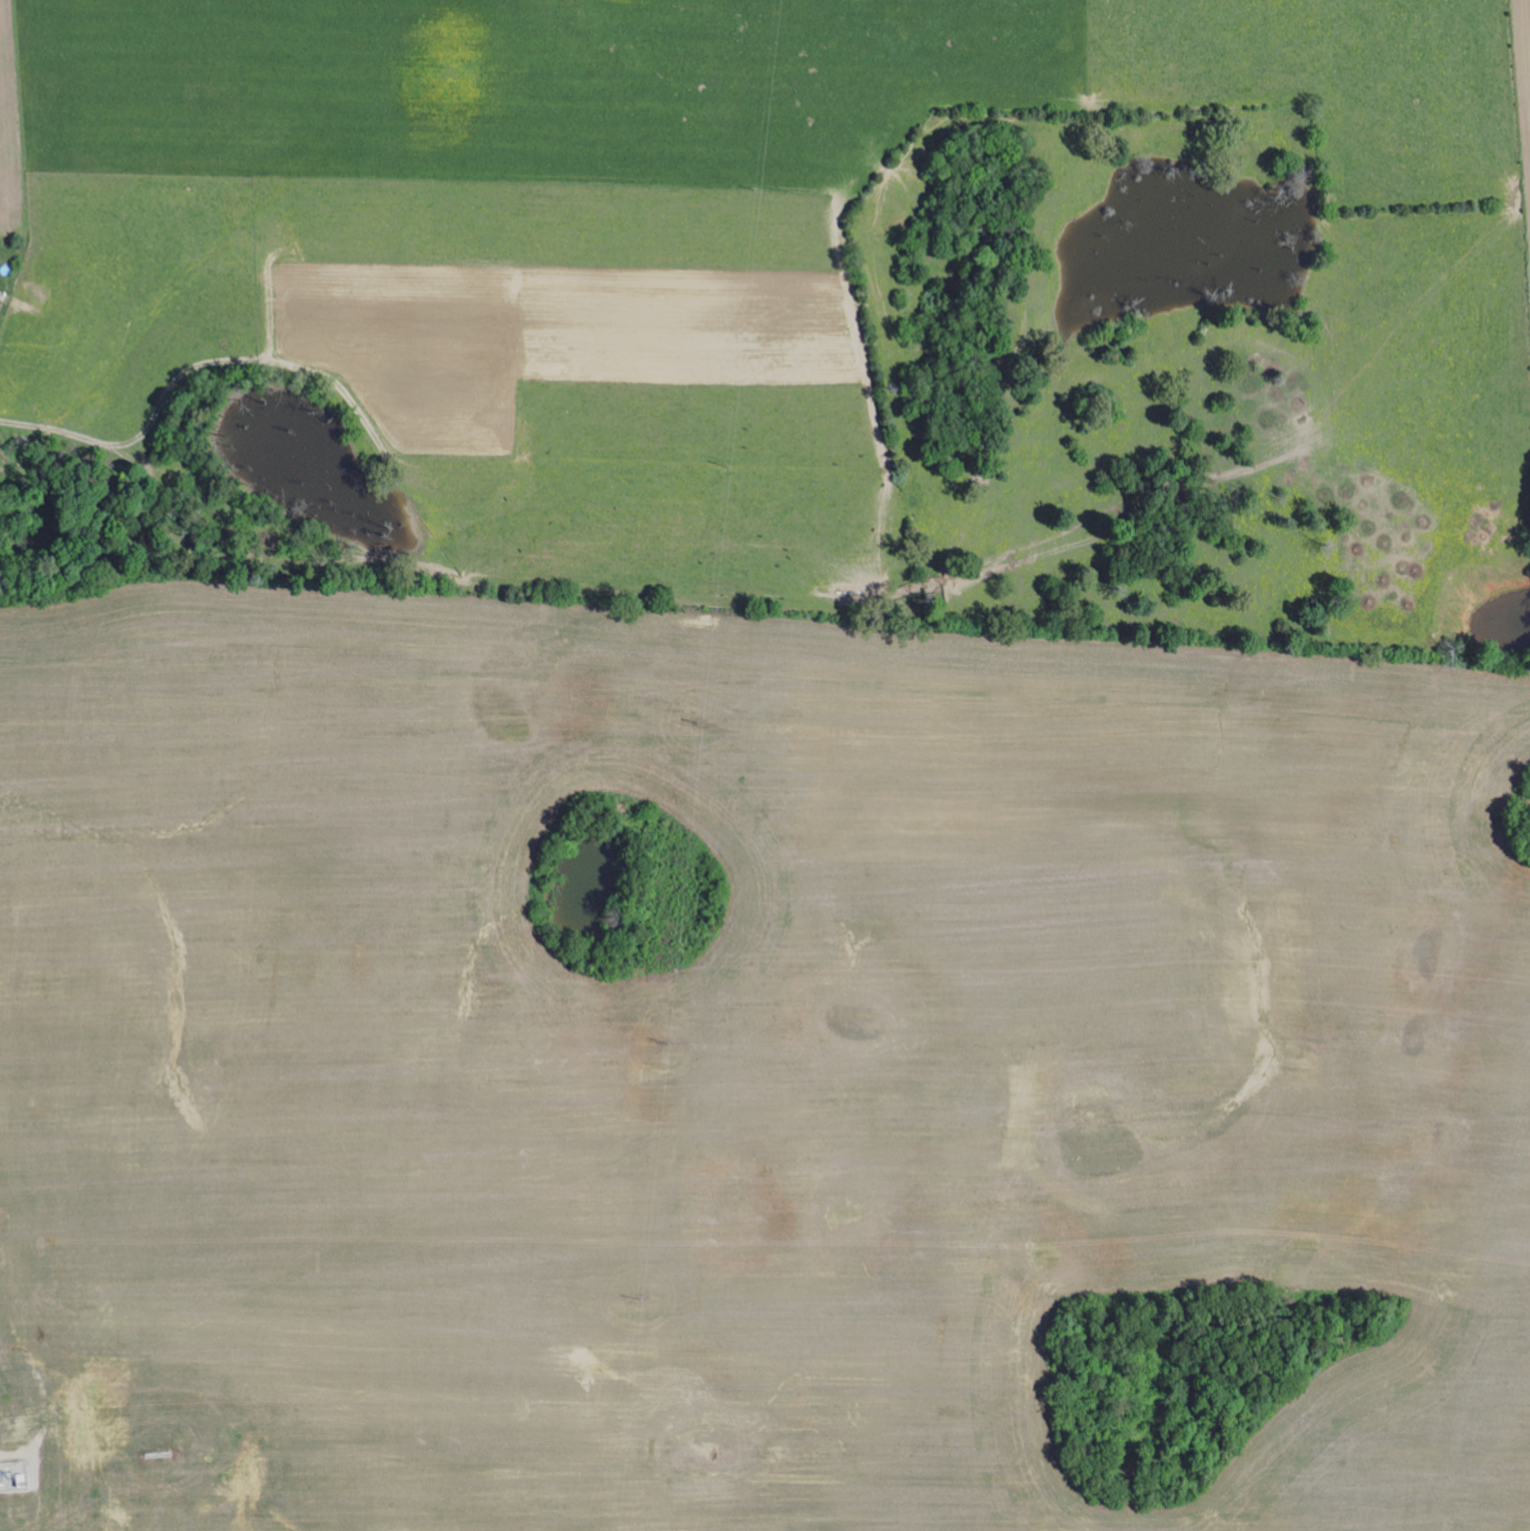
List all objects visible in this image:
building: (1, 290)

